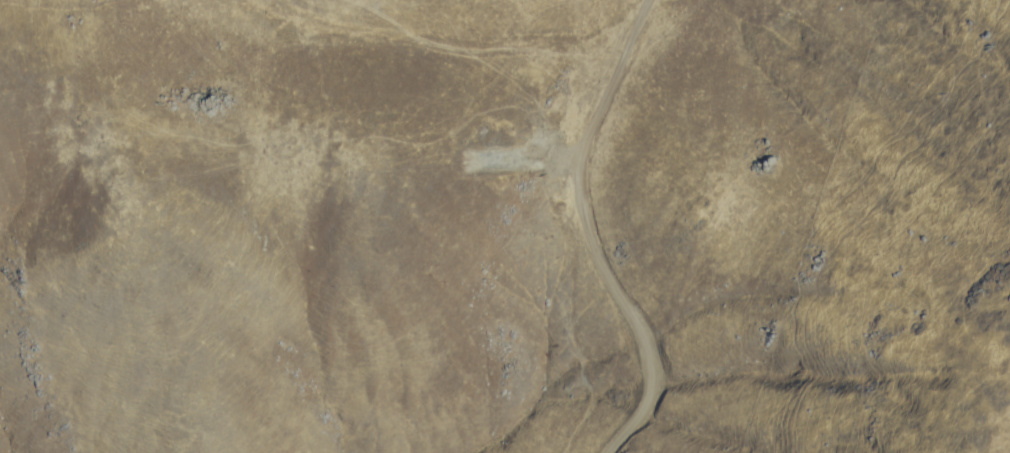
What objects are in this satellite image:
road: (593, 233)

